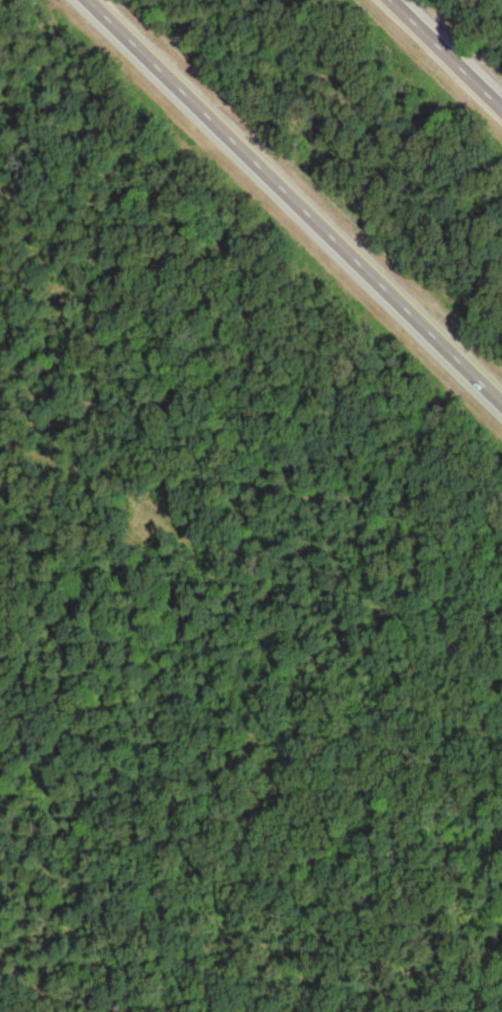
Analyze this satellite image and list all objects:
road: (453, 47)
road: (303, 194)
road: (84, 343)
road: (168, 677)
road: (250, 882)

